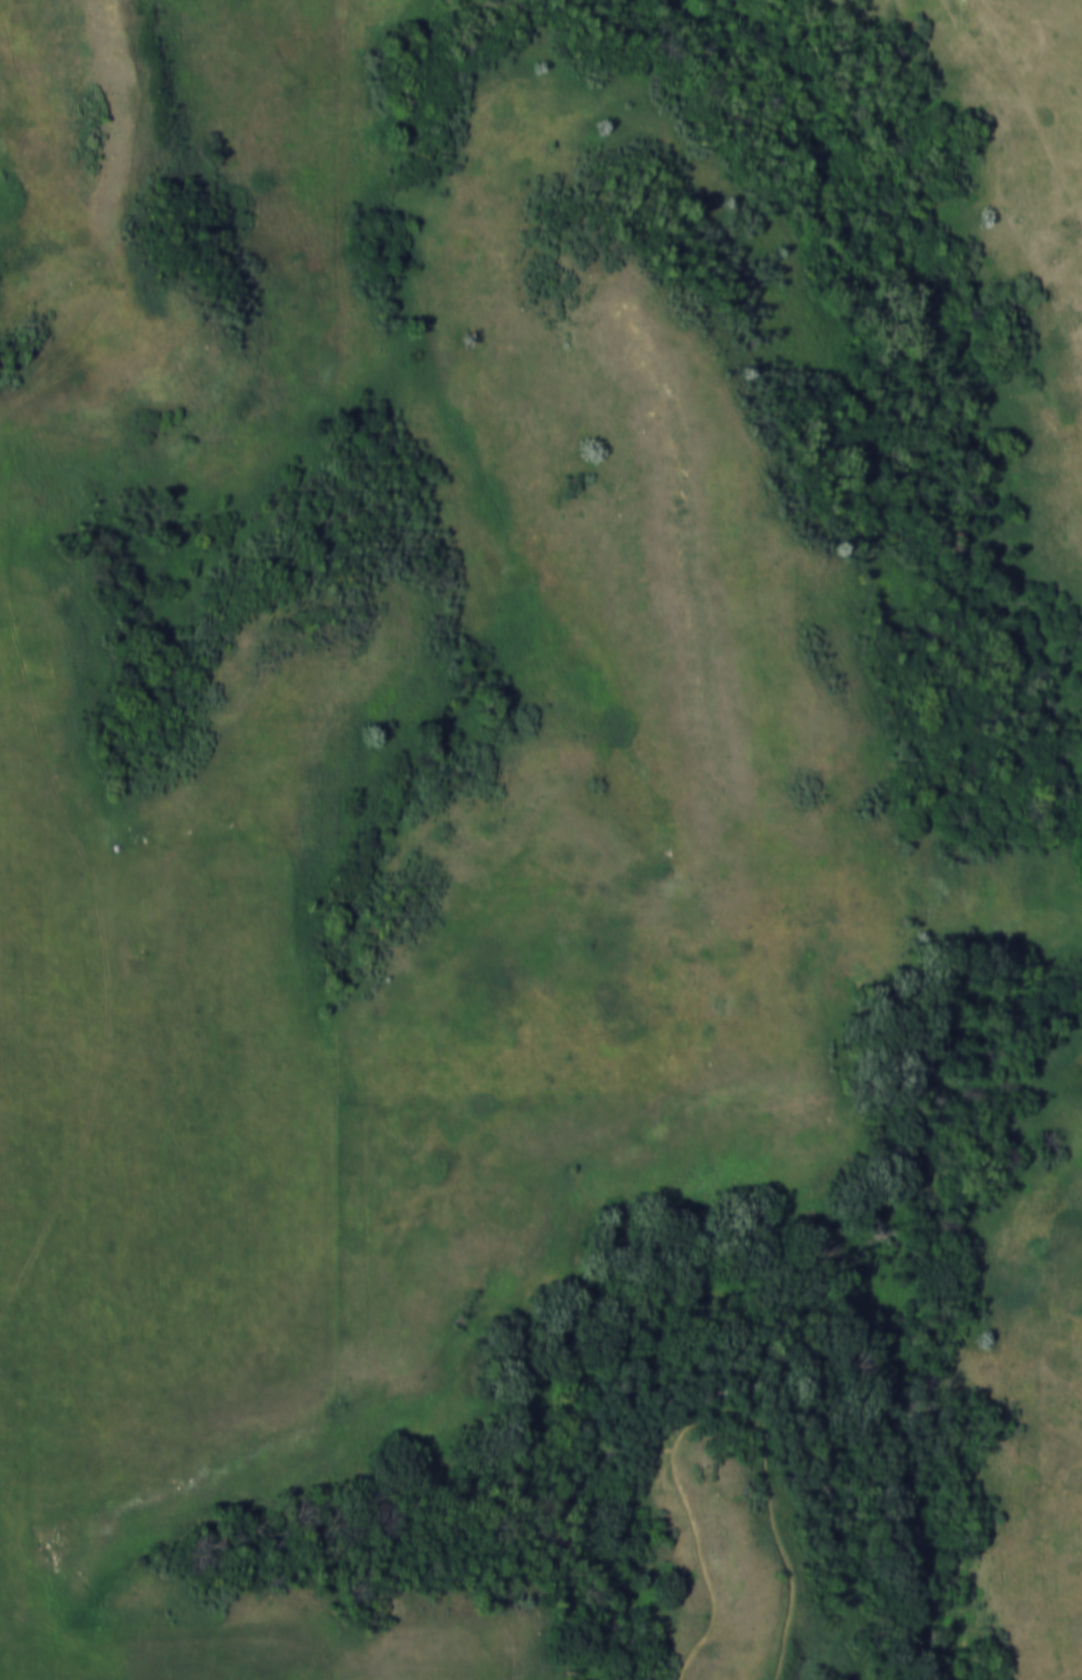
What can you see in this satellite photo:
park: (708, 1388)

